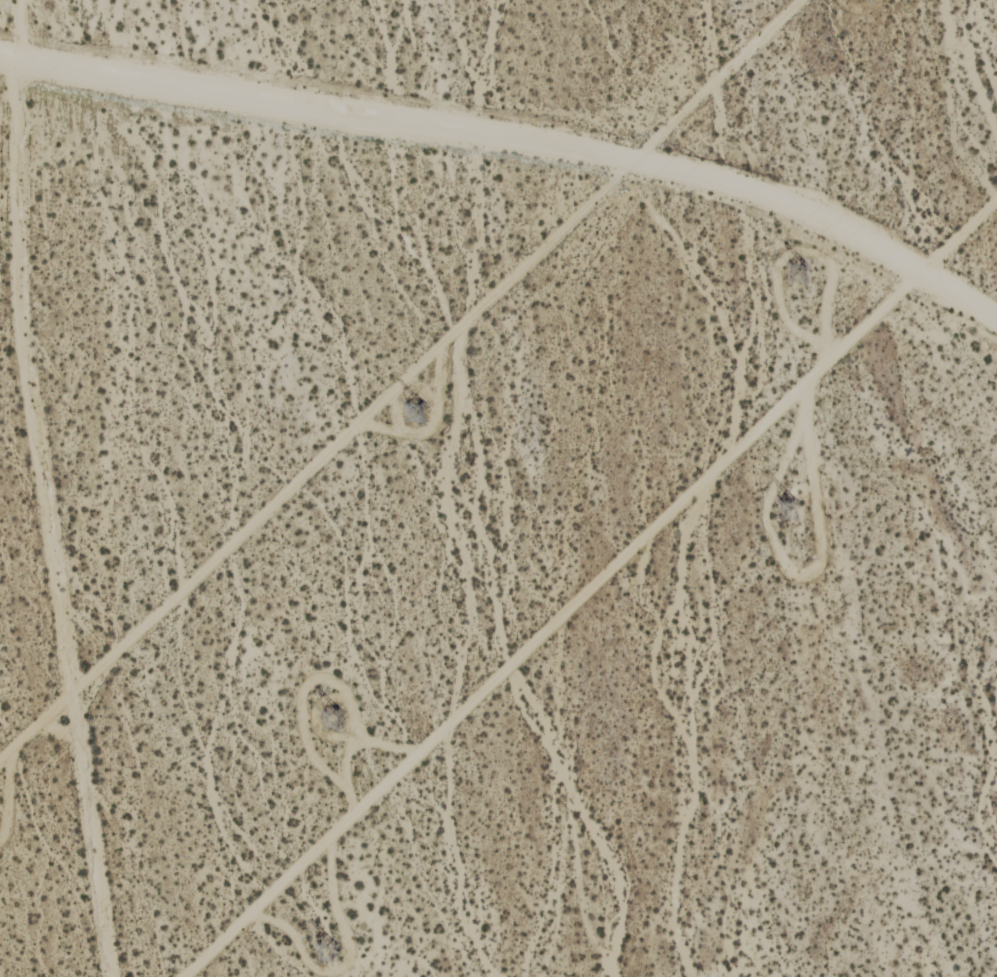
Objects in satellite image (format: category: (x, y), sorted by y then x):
road: (515, 140)
power tower: (803, 273)
power tower: (415, 416)
power tower: (784, 513)
road: (590, 587)
power tower: (336, 722)
power tower: (328, 943)

